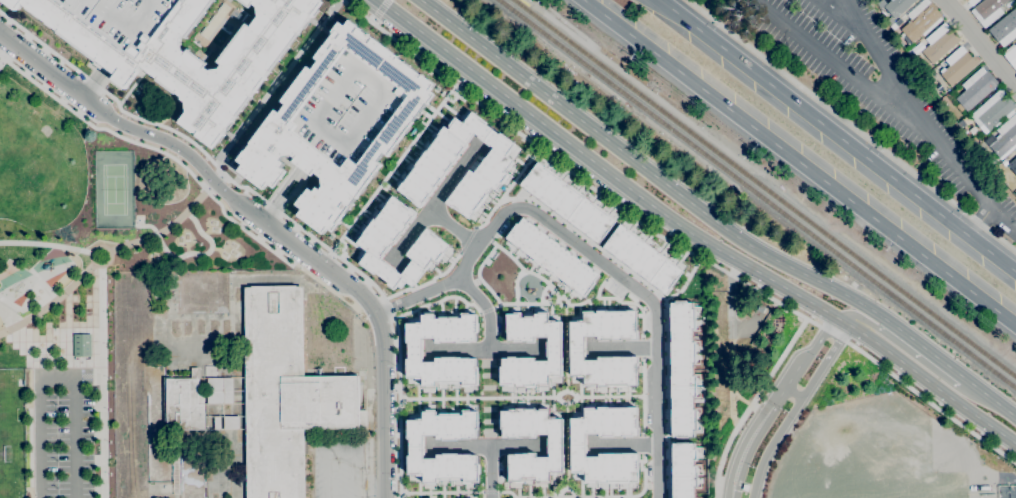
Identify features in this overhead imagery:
building: (962, 2)
building: (970, 2)
railway: (528, 5)
building: (897, 7)
road: (378, 9)
road: (834, 10)
building: (987, 11)
parking lot: (124, 17)
road: (371, 20)
building: (920, 21)
building: (1004, 28)
road: (978, 43)
building: (938, 44)
road: (652, 52)
building: (186, 55)
building: (1011, 55)
road: (109, 58)
road: (844, 67)
building: (959, 68)
road: (274, 81)
road: (89, 83)
parking lot: (876, 86)
building: (975, 88)
building: (346, 109)
parking lot: (346, 109)
building: (992, 111)
road: (924, 119)
road: (852, 124)
building: (275, 128)
road: (837, 136)
building: (1005, 137)
building: (1015, 150)
building: (431, 165)
building: (1013, 166)
road: (391, 168)
road: (187, 172)
road: (518, 172)
road: (298, 175)
road: (669, 187)
railway: (764, 189)
park: (112, 191)
railway: (757, 194)
road: (430, 200)
building: (566, 202)
road: (274, 209)
road: (271, 210)
road: (869, 215)
road: (1002, 222)
road: (266, 223)
road: (451, 226)
road: (688, 233)
road: (466, 239)
road: (670, 243)
building: (429, 246)
road: (117, 250)
road: (188, 255)
road: (591, 255)
building: (551, 256)
building: (642, 259)
road: (516, 264)
park: (79, 274)
road: (545, 281)
road: (426, 282)
road: (684, 282)
road: (647, 286)
road: (612, 297)
road: (437, 301)
road: (527, 302)
road: (483, 307)
road: (485, 310)
road: (102, 312)
road: (729, 312)
road: (882, 336)
building: (79, 345)
road: (620, 347)
road: (641, 347)
building: (575, 348)
building: (553, 349)
building: (412, 352)
road: (564, 353)
road: (36, 363)
road: (947, 368)
building: (681, 371)
road: (56, 379)
building: (219, 391)
road: (792, 391)
building: (285, 394)
road: (641, 395)
road: (729, 395)
road: (602, 396)
road: (482, 397)
road: (988, 399)
road: (746, 402)
road: (771, 402)
building: (184, 403)
road: (750, 404)
road: (793, 408)
building: (231, 422)
building: (216, 423)
parking lot: (63, 433)
road: (565, 439)
park: (8, 440)
road: (621, 444)
road: (642, 444)
road: (485, 445)
building: (552, 445)
building: (576, 445)
building: (414, 446)
building: (682, 470)
road: (489, 471)
road: (643, 474)
road: (565, 488)
toll booth: (731, 489)
road: (505, 491)
road: (440, 492)
road: (489, 492)
road: (481, 495)
road: (571, 497)

